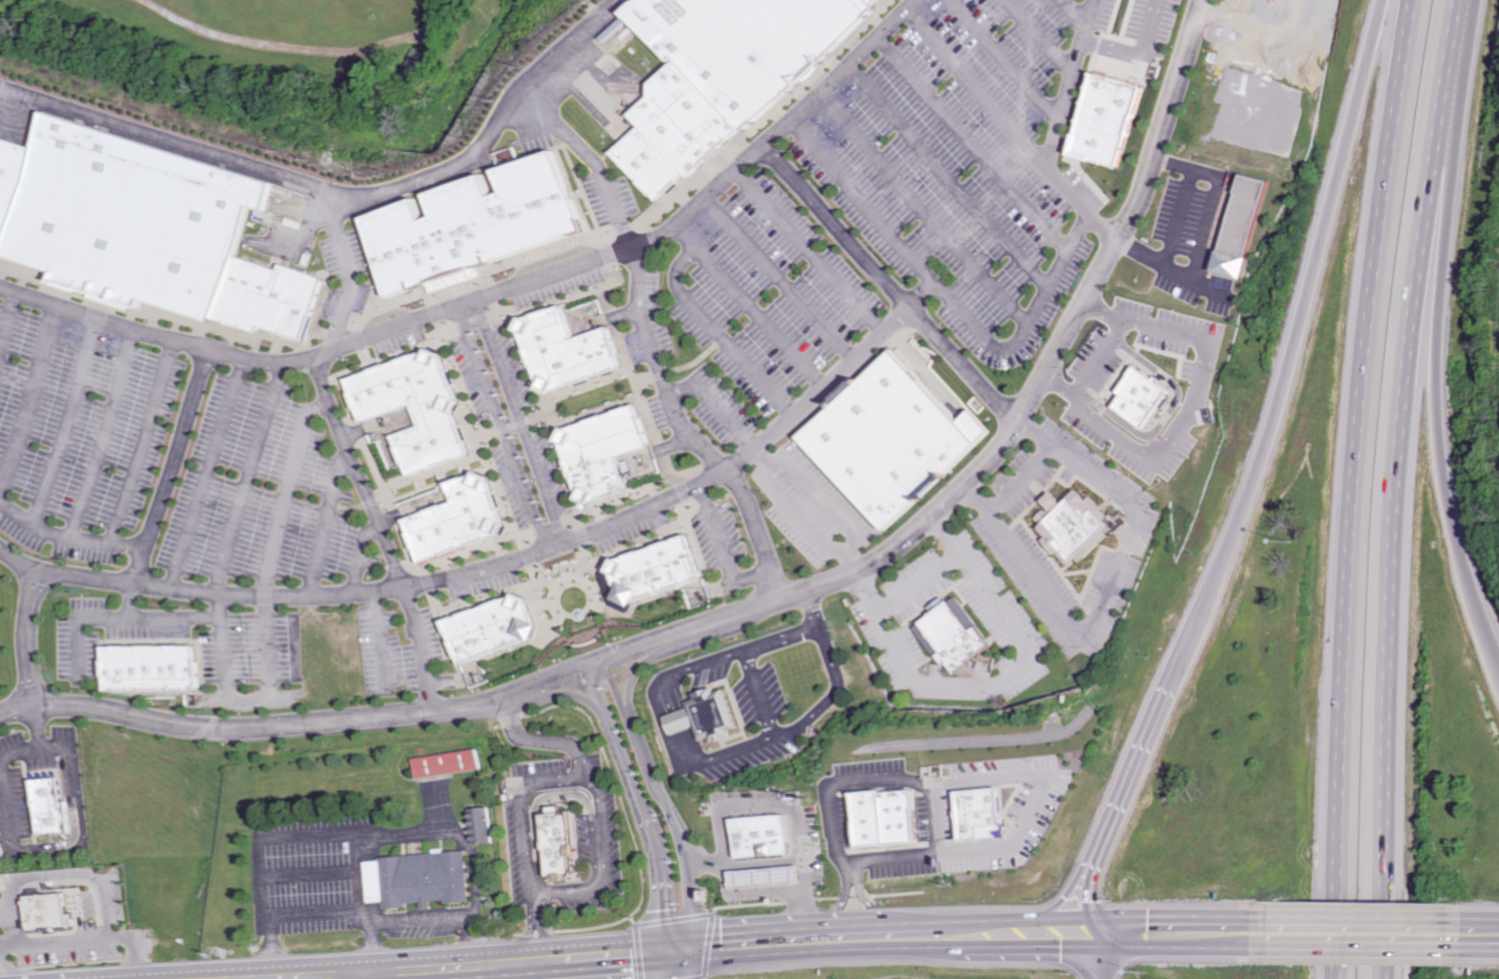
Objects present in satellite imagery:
building: (879, 1)
road: (1077, 13)
road: (1045, 36)
building: (752, 44)
road: (285, 45)
road: (1142, 53)
road: (1011, 60)
road: (980, 88)
building: (685, 118)
building: (1114, 120)
road: (1059, 132)
road: (974, 142)
road: (595, 158)
building: (650, 163)
road: (948, 175)
building: (11, 181)
road: (346, 193)
road: (923, 207)
road: (1213, 211)
building: (132, 217)
road: (1180, 219)
road: (831, 225)
building: (1245, 226)
building: (480, 227)
road: (805, 249)
road: (357, 269)
road: (773, 278)
road: (1199, 279)
road: (498, 294)
road: (919, 294)
building: (273, 296)
road: (946, 298)
road: (742, 303)
road: (9, 321)
road: (713, 332)
building: (573, 342)
road: (1102, 357)
road: (958, 362)
road: (1438, 362)
road: (656, 365)
building: (1142, 397)
road: (30, 399)
road: (1279, 403)
building: (424, 406)
road: (1189, 411)
road: (68, 421)
road: (525, 421)
road: (507, 427)
parking lot: (82, 433)
road: (108, 434)
building: (885, 440)
road: (147, 444)
building: (603, 453)
road: (214, 472)
road: (1016, 480)
road: (173, 481)
road: (1355, 487)
road: (1399, 487)
parking lot: (270, 493)
road: (813, 498)
road: (791, 513)
building: (464, 519)
road: (330, 524)
building: (1066, 526)
road: (386, 531)
road: (754, 532)
road: (70, 538)
road: (720, 542)
road: (363, 556)
road: (490, 566)
building: (653, 571)
road: (911, 582)
road: (1100, 591)
road: (760, 606)
fountain: (584, 614)
road: (125, 617)
building: (497, 629)
building: (946, 635)
road: (36, 636)
road: (381, 641)
road: (752, 646)
building: (157, 668)
road: (639, 675)
road: (993, 682)
road: (229, 698)
building: (716, 715)
building: (683, 721)
road: (540, 738)
road: (959, 742)
road: (41, 750)
road: (728, 752)
building: (448, 763)
road: (554, 776)
road: (836, 785)
road: (669, 801)
building: (53, 805)
road: (11, 806)
road: (643, 807)
road: (760, 809)
building: (981, 815)
building: (888, 820)
road: (1024, 823)
building: (481, 824)
road: (600, 830)
road: (334, 833)
building: (763, 837)
building: (556, 846)
road: (789, 861)
road: (1104, 863)
road: (1088, 866)
road: (356, 871)
road: (309, 875)
building: (767, 878)
gas station: (767, 878)
building: (417, 880)
road: (525, 880)
road: (535, 904)
building: (49, 912)
road: (323, 913)
road: (419, 927)
road: (1199, 931)
traffic signals: (1120, 932)
road: (1364, 932)
road: (1474, 933)
traffic signals: (1036, 935)
road: (545, 938)
road: (525, 939)
road: (83, 940)
road: (818, 941)
traffic signals: (679, 949)
road: (1069, 950)
road: (1110, 954)
road: (679, 964)
road: (1, 966)
road: (375, 972)
road: (371, 976)

